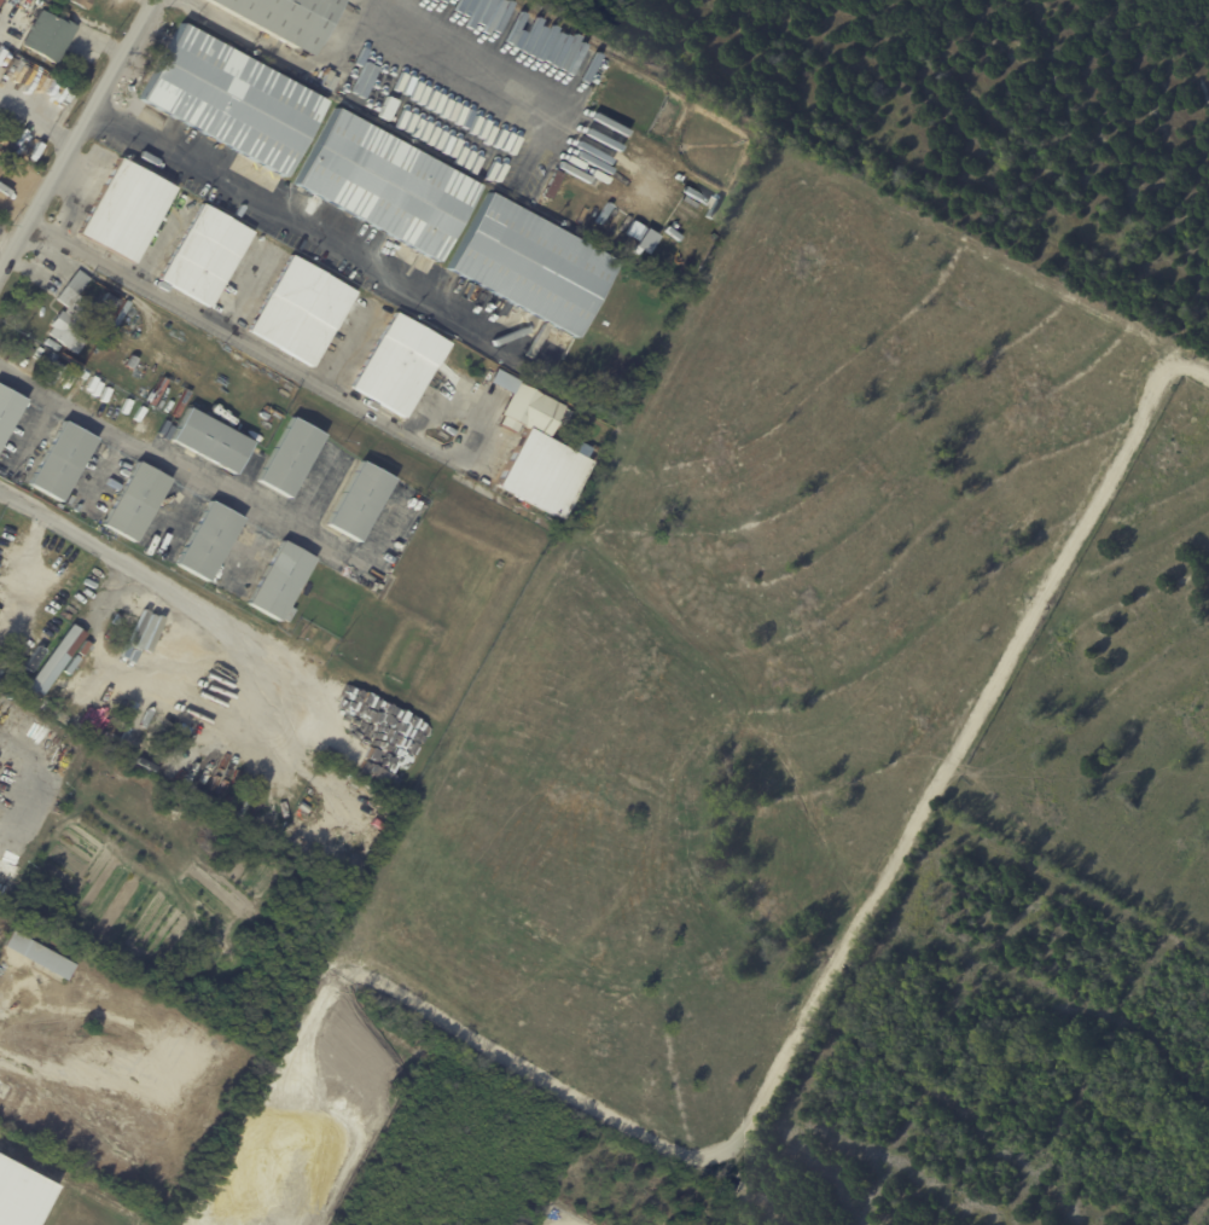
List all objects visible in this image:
building: (0, 1)
building: (80, 2)
building: (278, 17)
road: (221, 21)
building: (48, 35)
road: (319, 64)
building: (229, 99)
road: (40, 122)
road: (80, 146)
building: (383, 185)
building: (548, 186)
building: (123, 210)
building: (551, 211)
road: (321, 234)
building: (204, 255)
building: (529, 266)
building: (300, 310)
building: (71, 313)
building: (400, 365)
building: (54, 373)
road: (308, 377)
building: (7, 410)
building: (530, 412)
building: (614, 413)
building: (209, 440)
building: (289, 458)
building: (60, 461)
road: (176, 463)
building: (542, 476)
building: (135, 501)
building: (359, 501)
building: (207, 541)
road: (27, 563)
building: (279, 581)
road: (203, 609)
building: (81, 645)
building: (31, 657)
building: (53, 661)
building: (70, 663)
building: (181, 728)
road: (27, 779)
building: (383, 801)
building: (303, 807)
building: (391, 807)
building: (39, 956)
building: (21, 1194)

